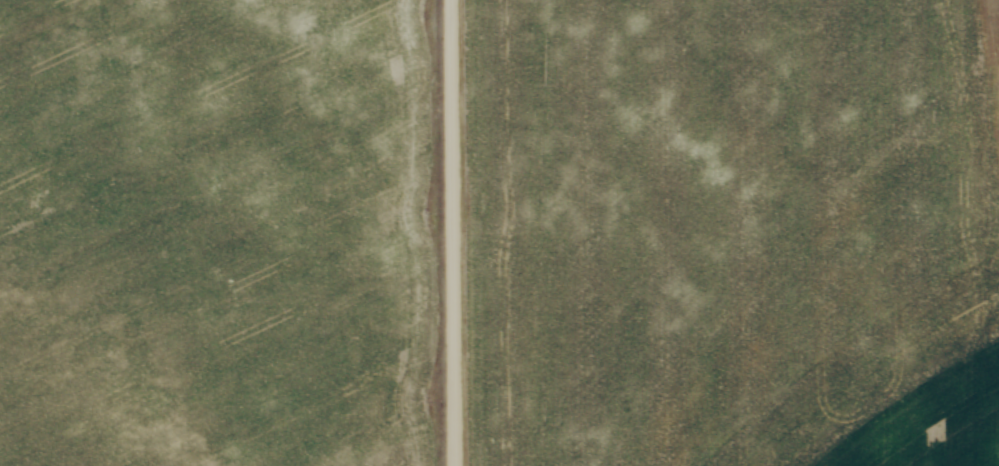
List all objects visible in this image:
crop: (214, 233)
road: (453, 233)
crop: (734, 234)

